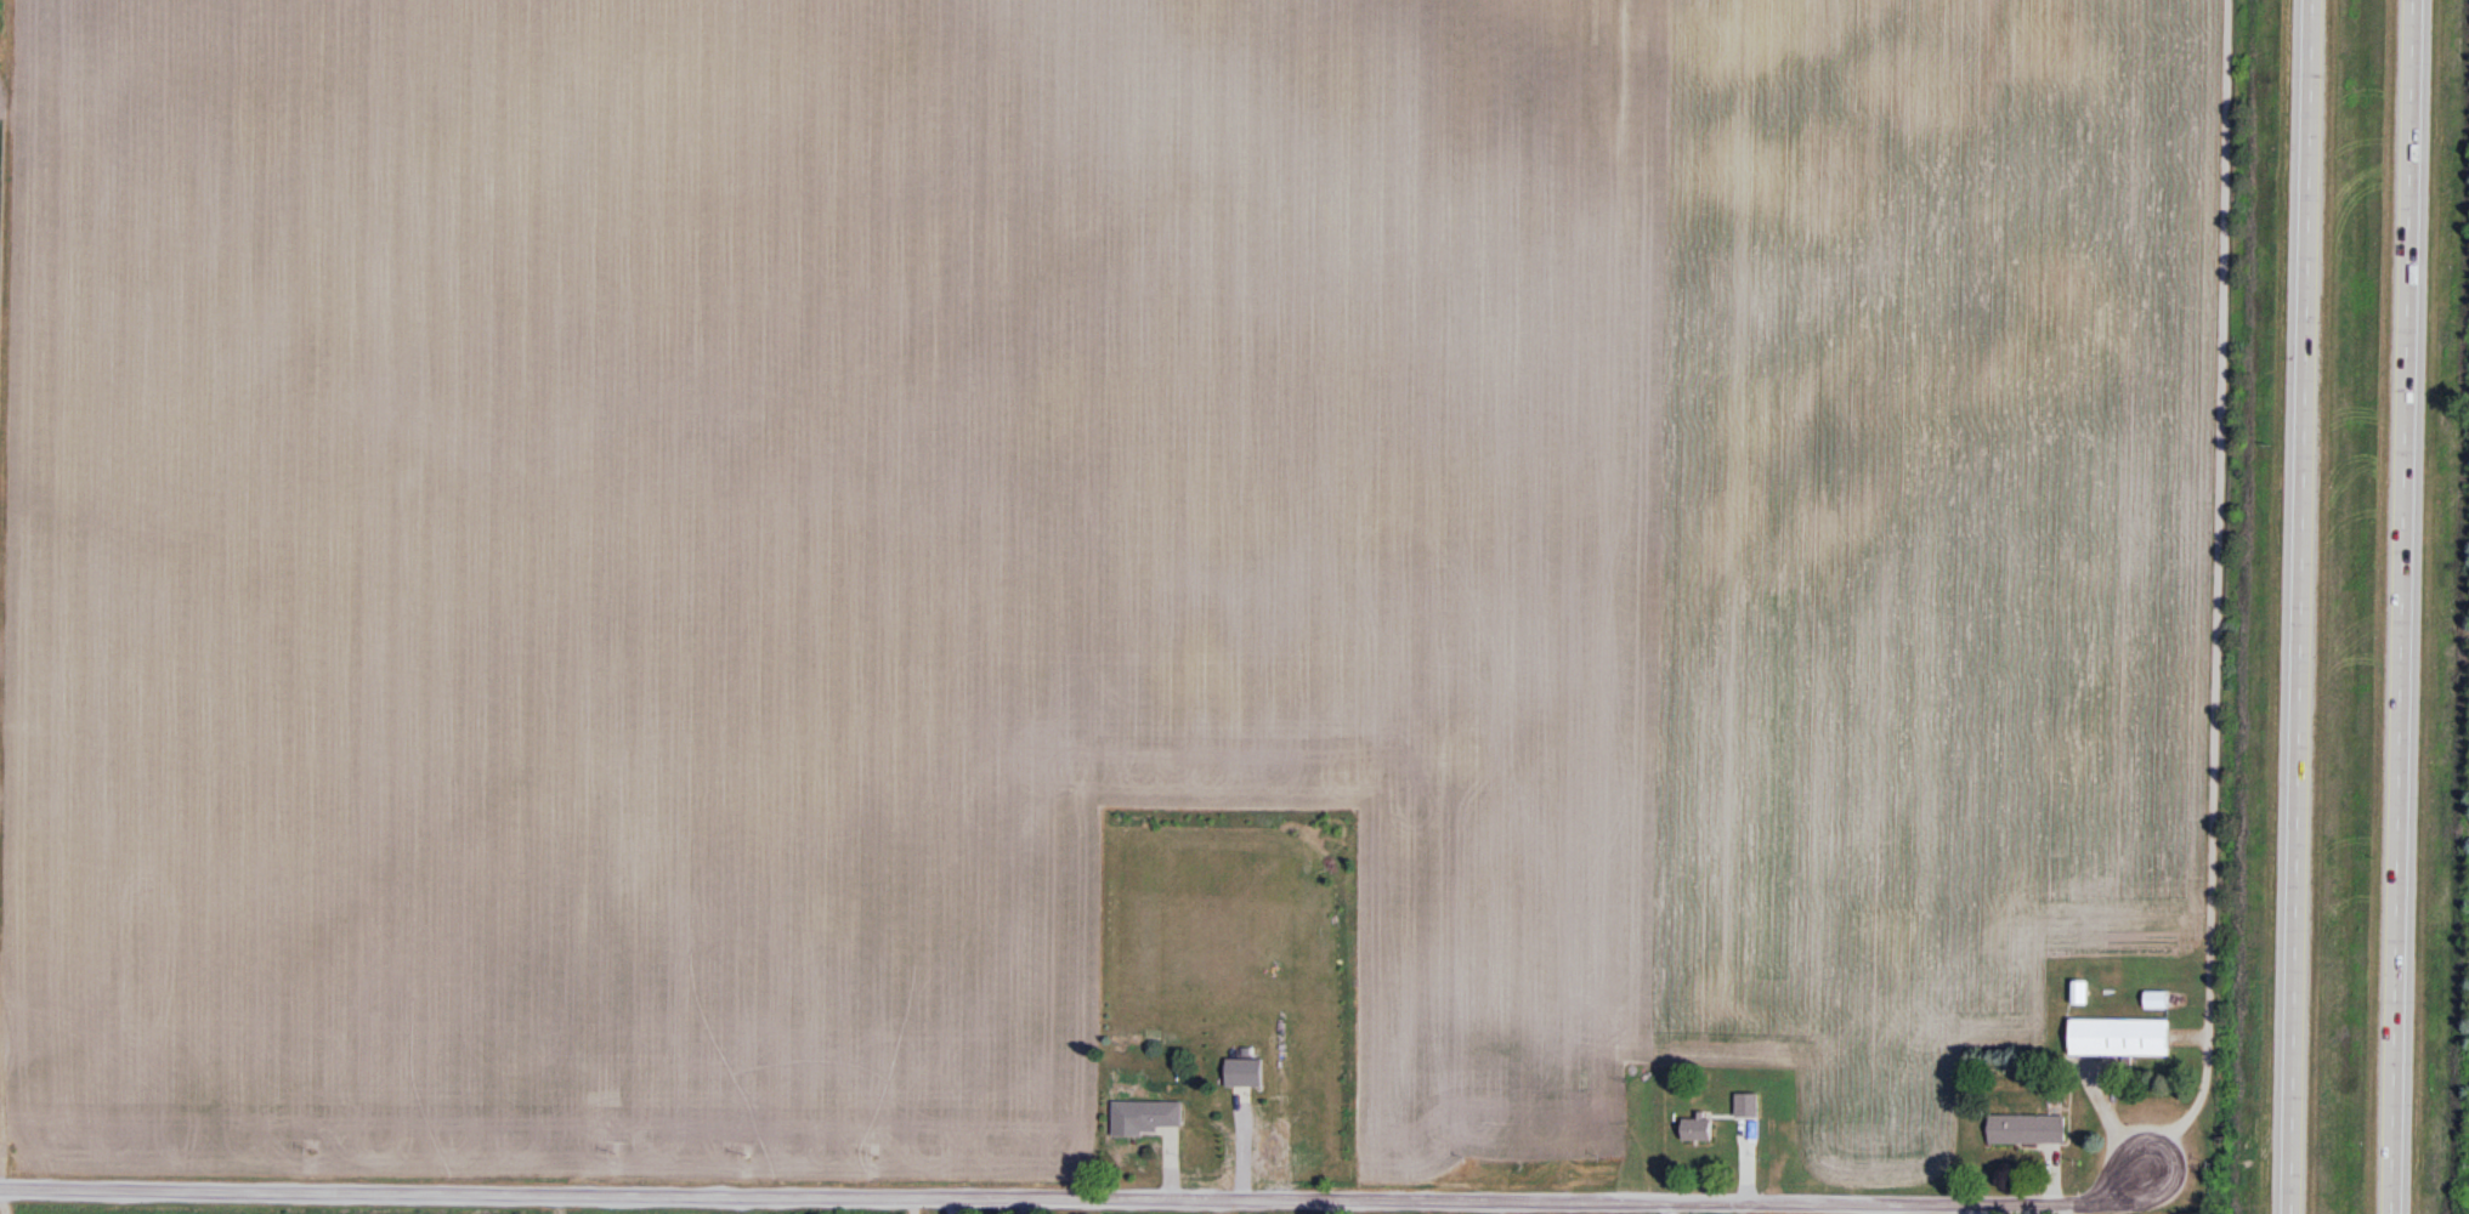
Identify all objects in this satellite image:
road: (2298, 607)
road: (2403, 607)
building: (2078, 994)
building: (2118, 1038)
building: (1242, 1074)
building: (1771, 1101)
building: (1146, 1118)
building: (1697, 1128)
building: (2027, 1131)
road: (1077, 1191)

